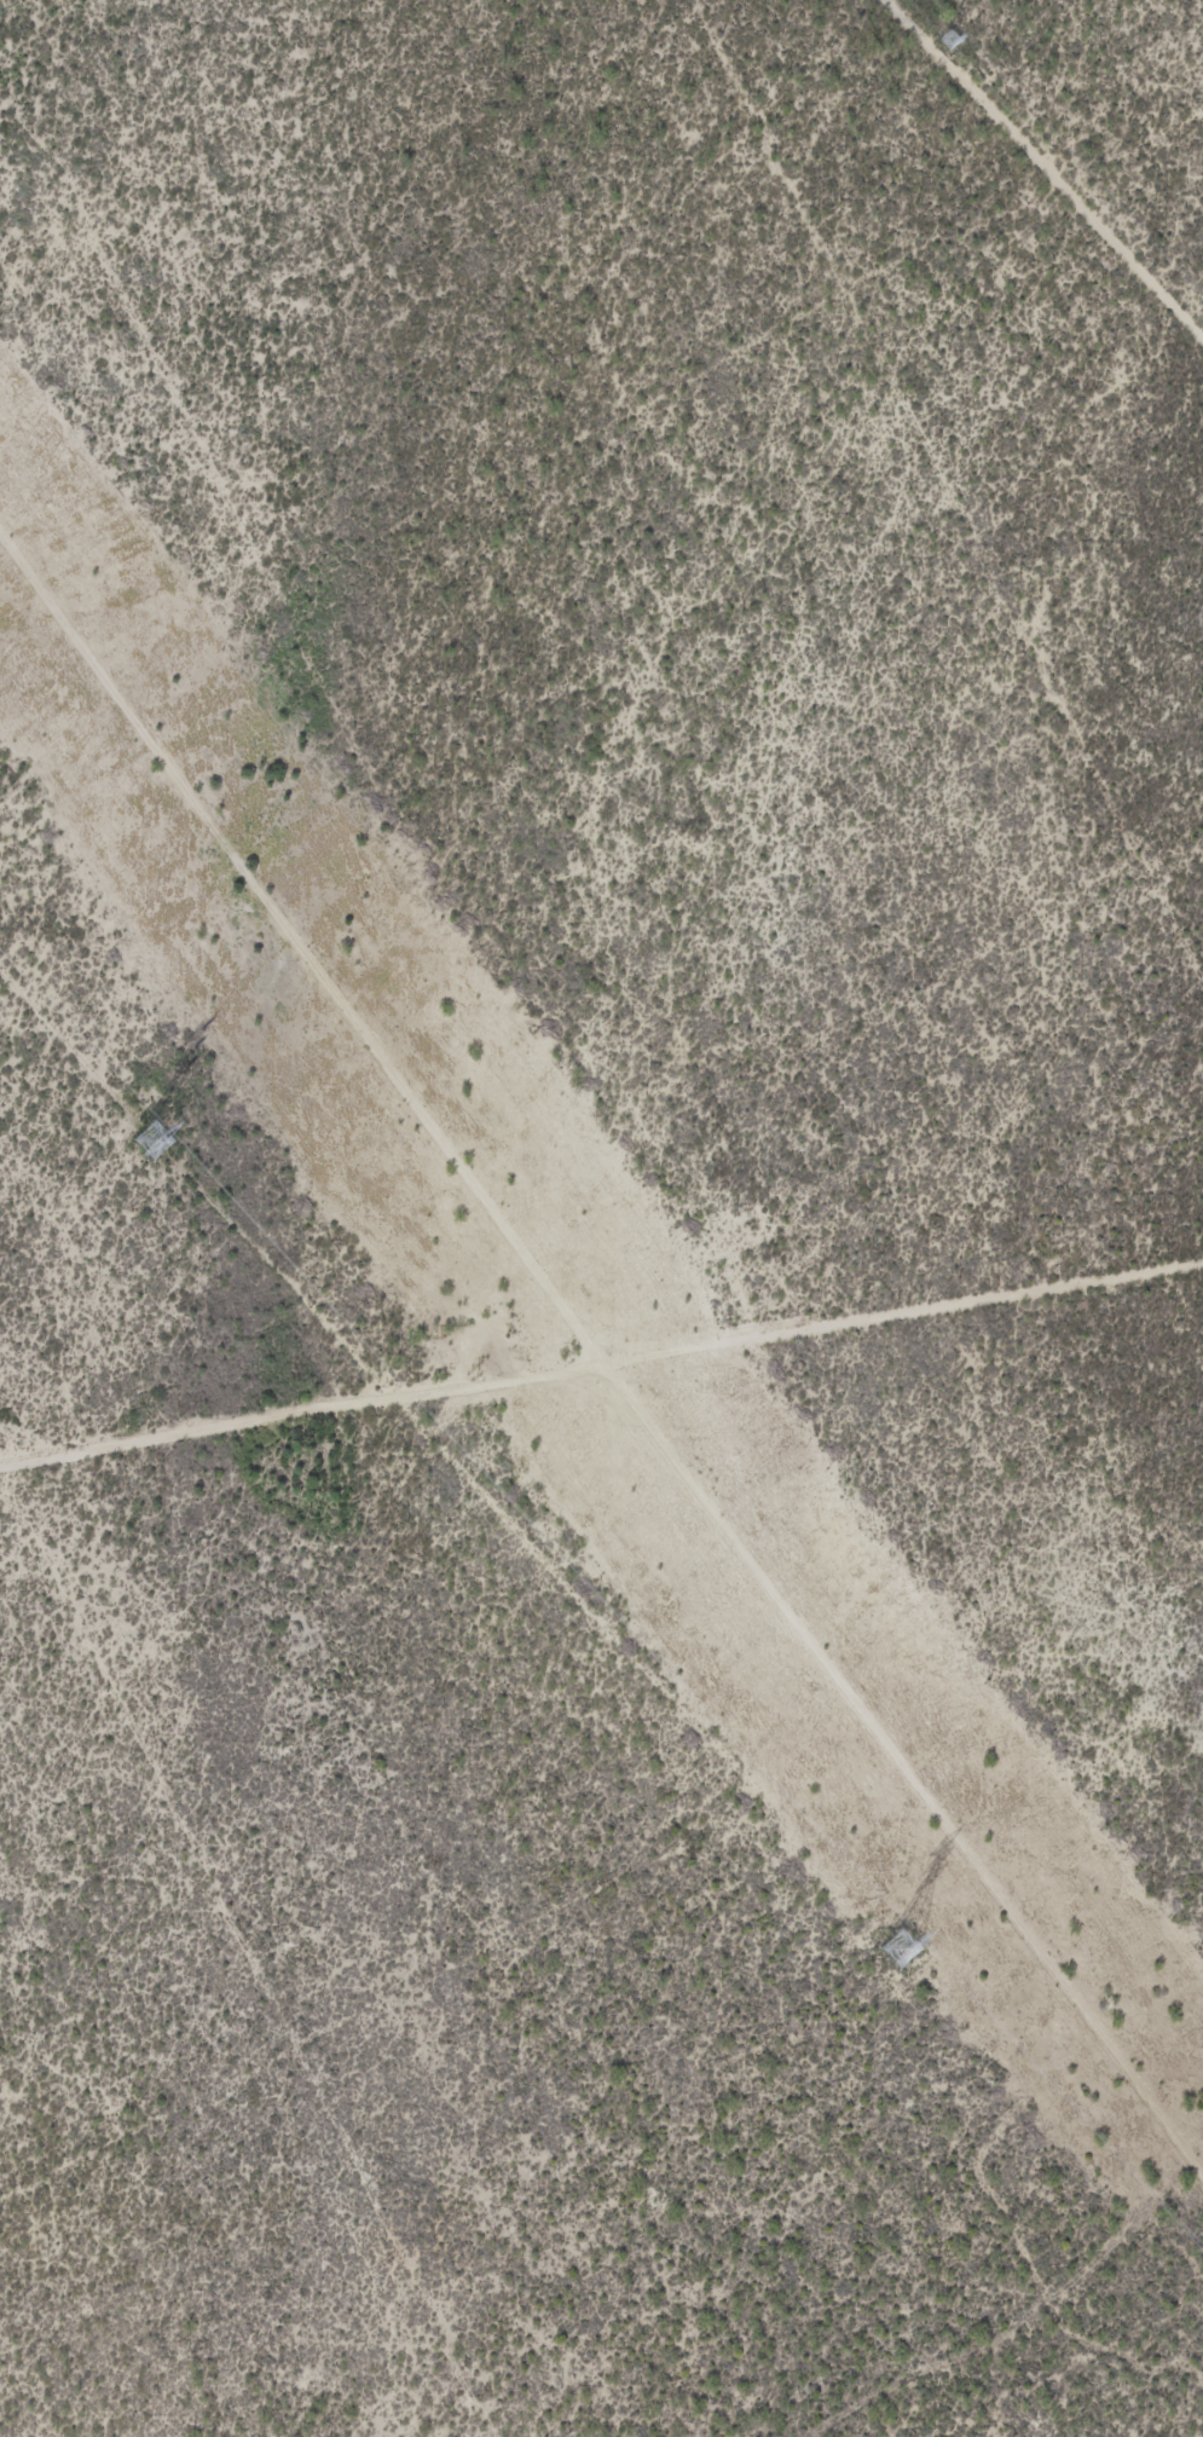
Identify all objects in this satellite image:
power tower: (939, 41)
power tower: (150, 1138)
power tower: (895, 1944)

